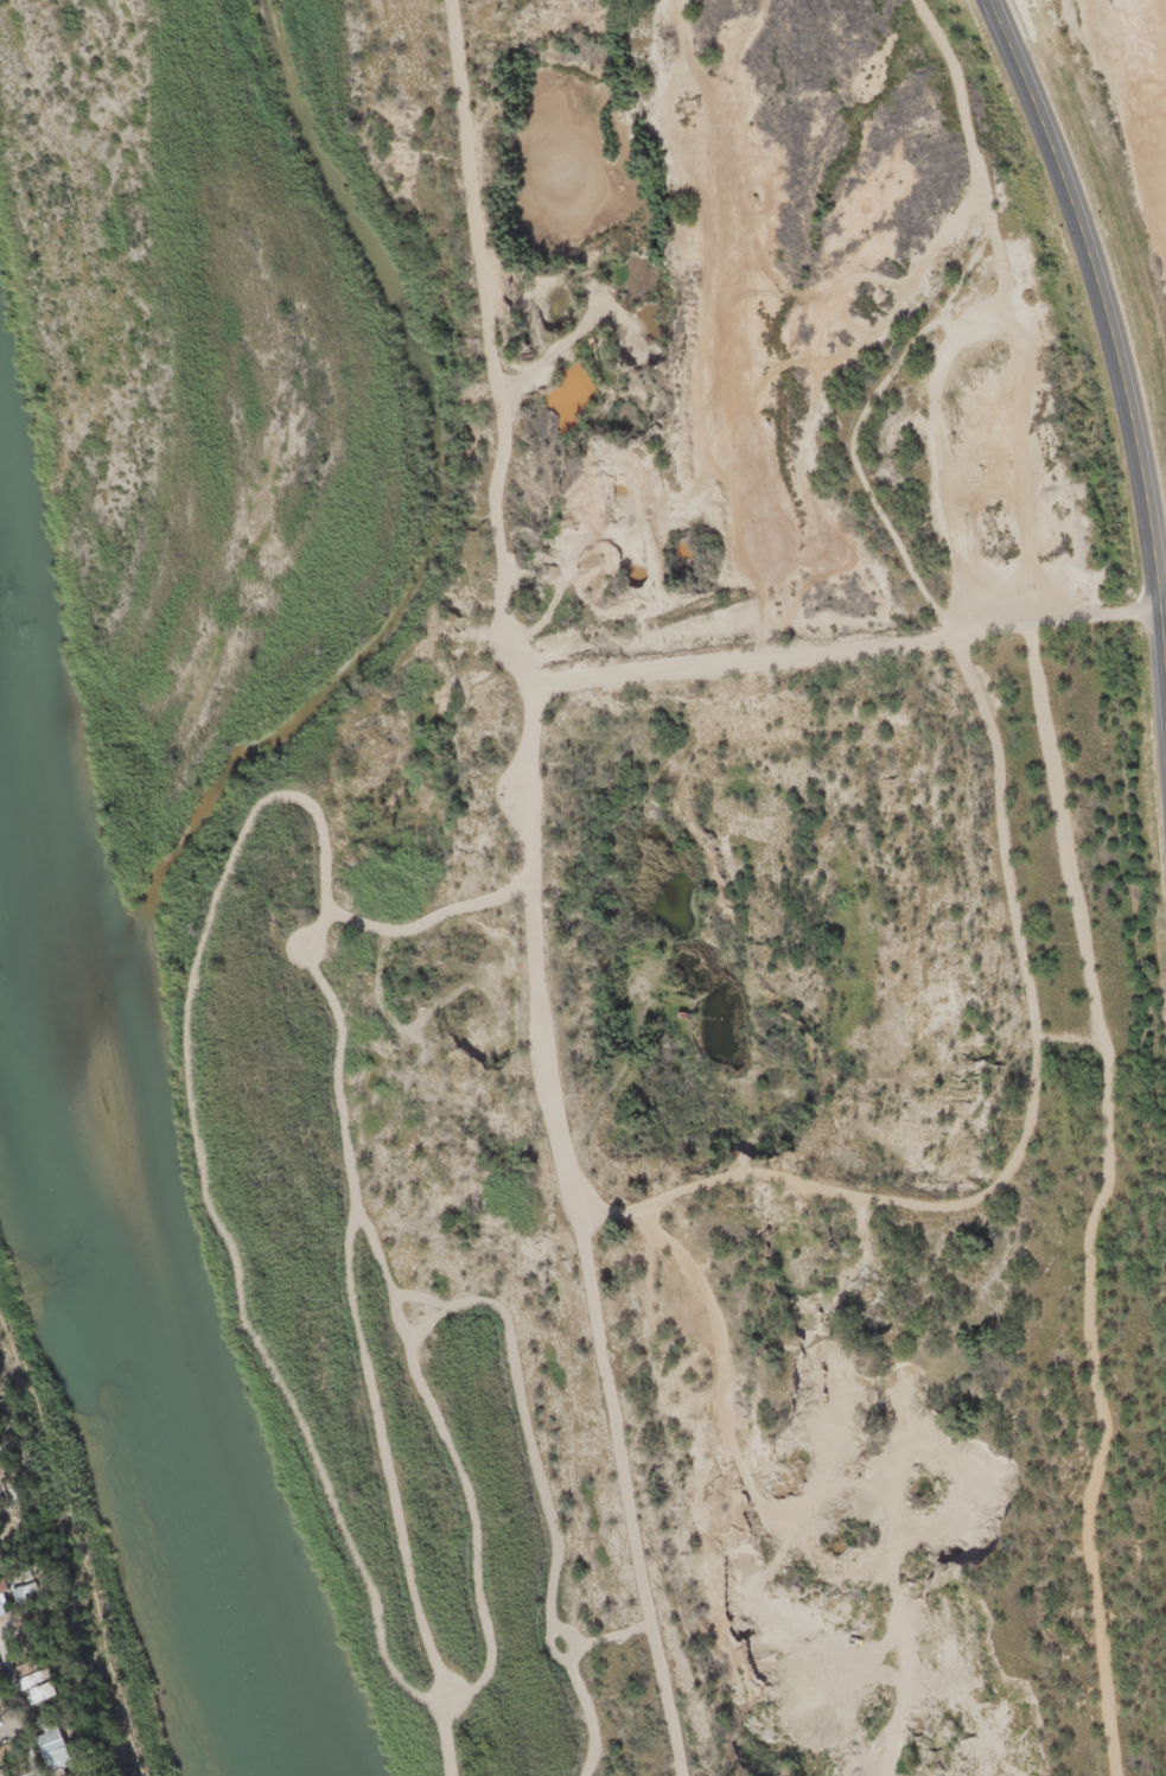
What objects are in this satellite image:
road: (924, 333)
road: (1119, 414)
road: (836, 656)
road: (516, 889)
road: (1033, 1208)
river: (107, 1248)
building: (40, 1673)
road: (26, 1713)
road: (7, 1731)
building: (50, 1742)

